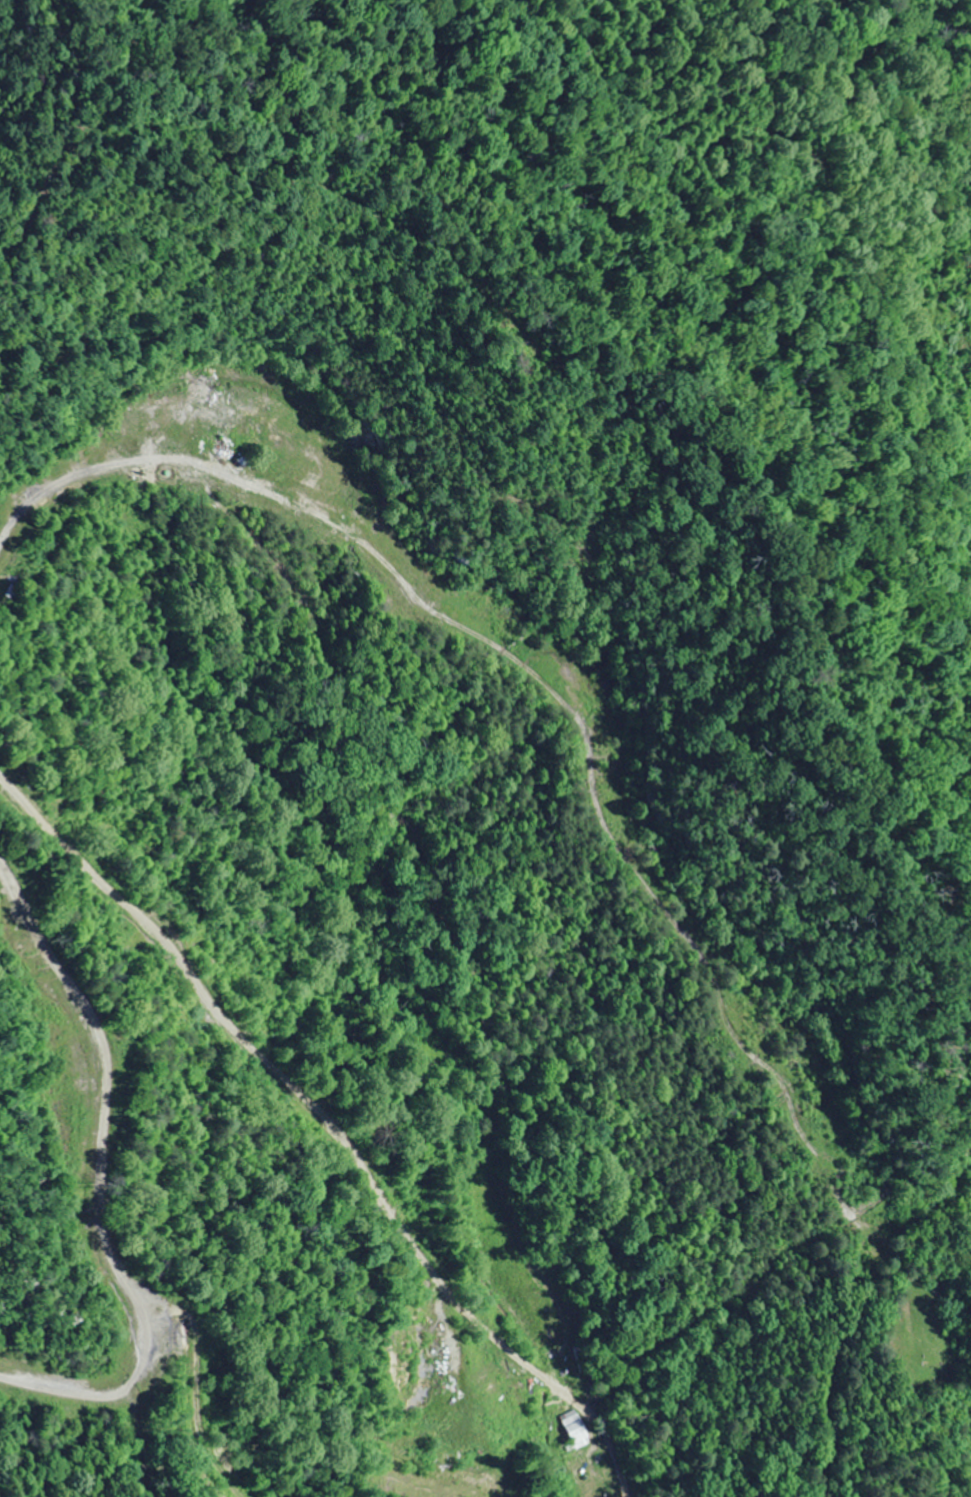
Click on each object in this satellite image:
building: (573, 1430)

